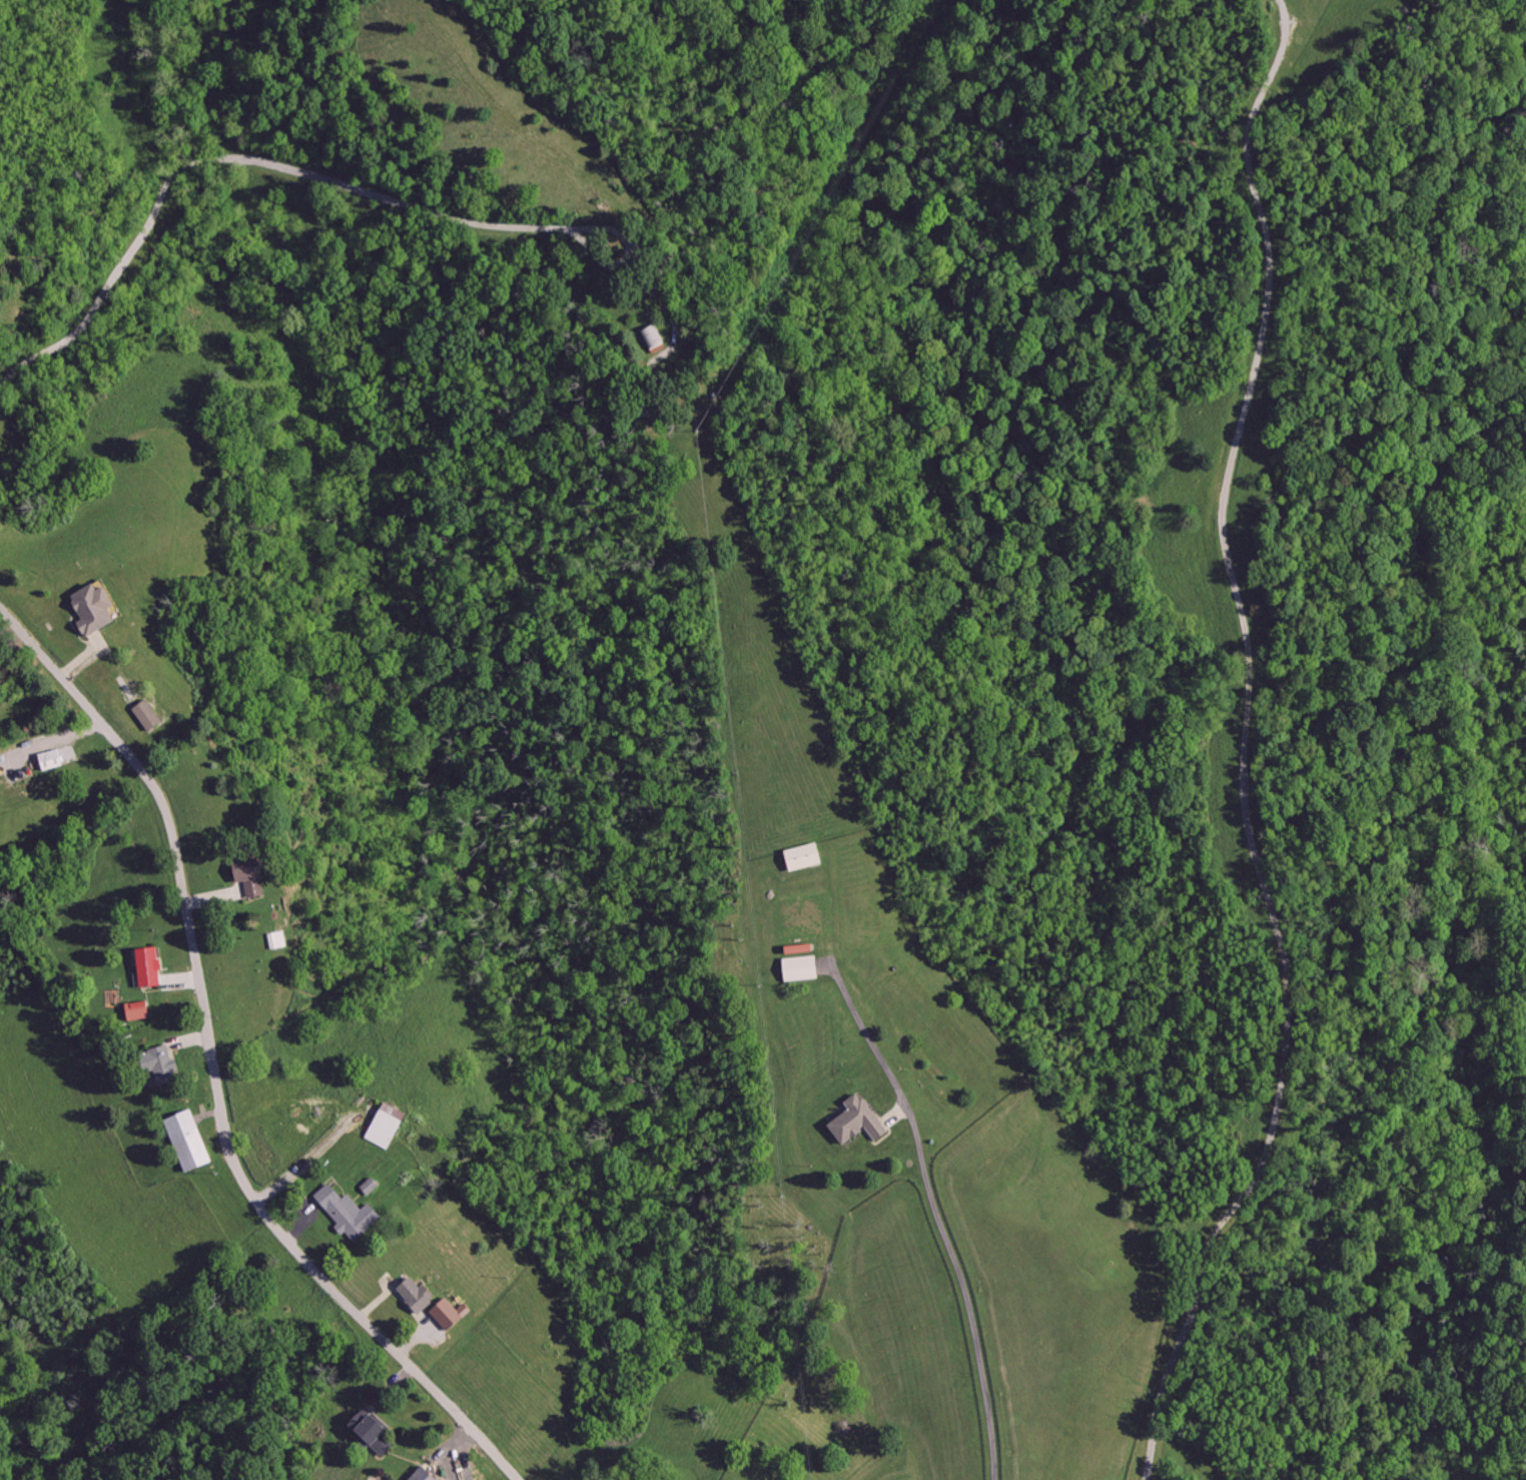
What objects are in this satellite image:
road: (358, 189)
road: (603, 261)
building: (654, 336)
building: (638, 410)
building: (96, 611)
road: (88, 654)
building: (149, 713)
road: (54, 741)
building: (53, 758)
building: (805, 857)
building: (254, 876)
building: (278, 940)
building: (149, 965)
building: (801, 968)
building: (141, 1010)
road: (217, 1062)
building: (161, 1063)
road: (897, 1116)
building: (859, 1119)
building: (388, 1125)
building: (190, 1139)
road: (935, 1209)
building: (348, 1211)
building: (416, 1293)
building: (452, 1313)
road: (393, 1387)
building: (370, 1431)
road: (456, 1452)
building: (425, 1474)

